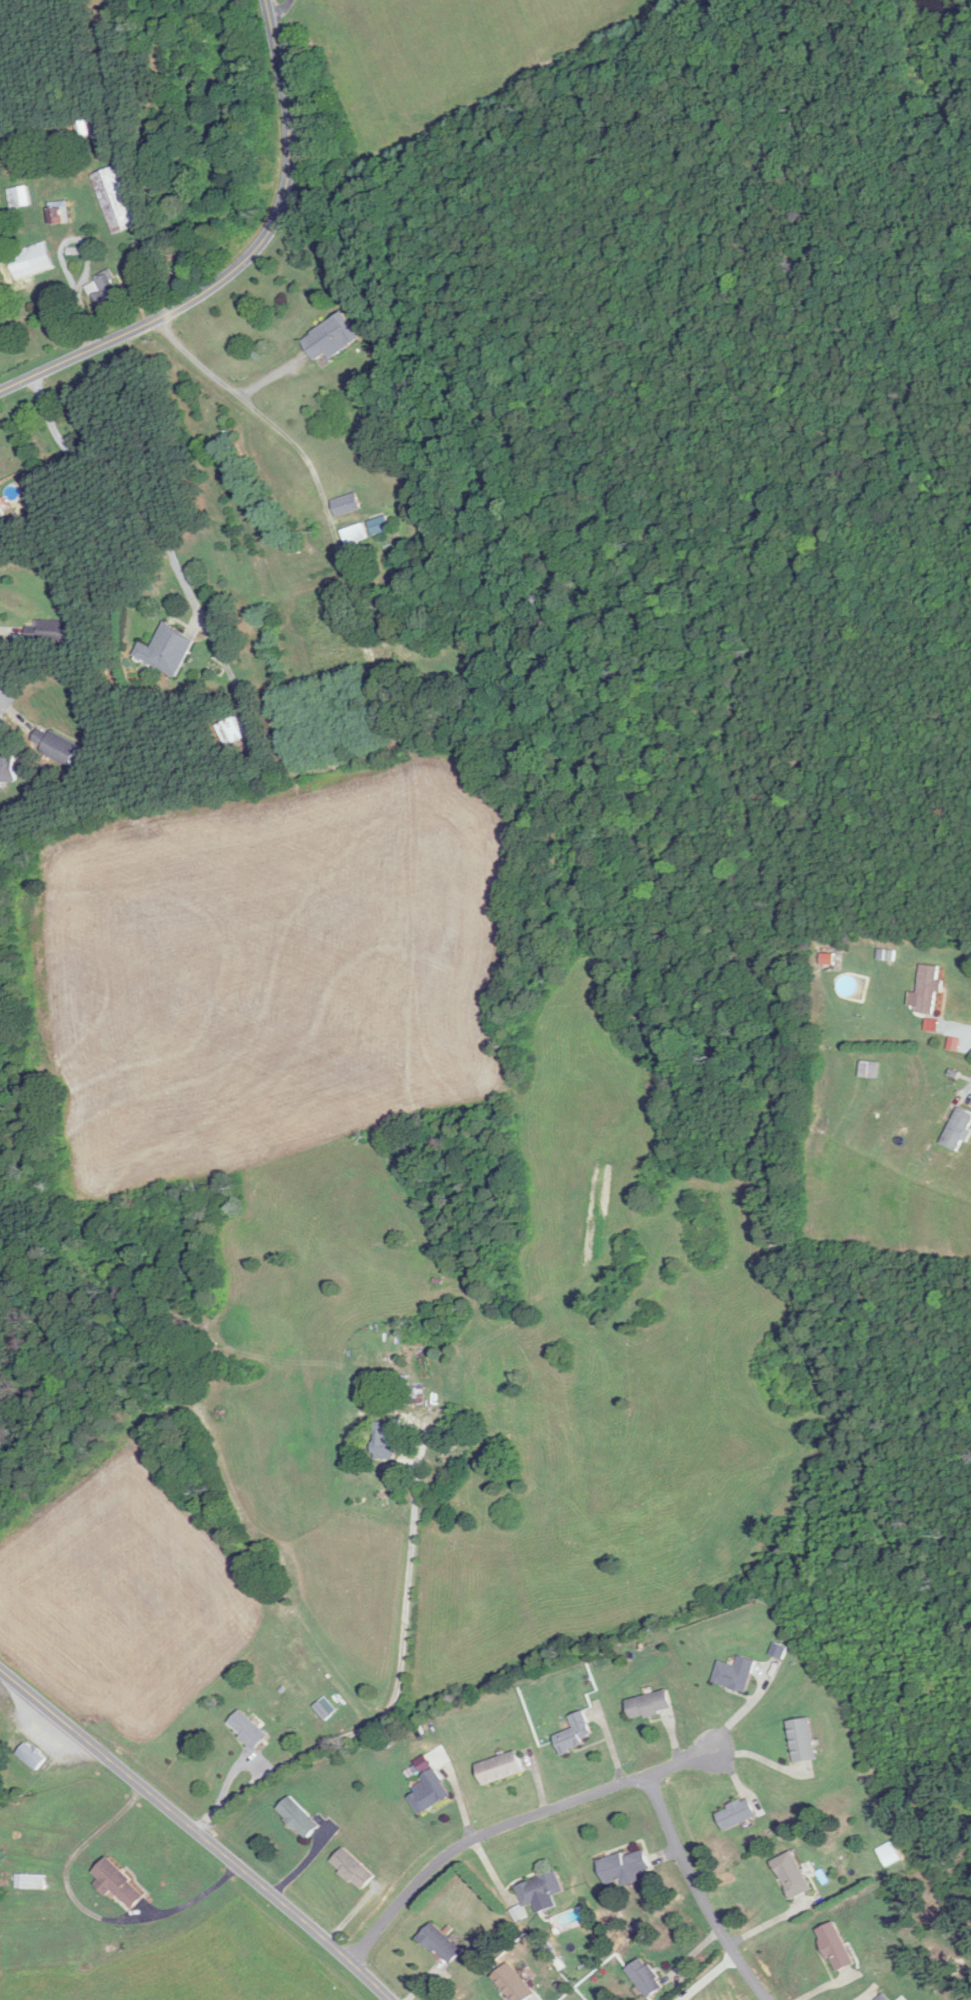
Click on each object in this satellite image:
road: (276, 11)
building: (84, 130)
building: (53, 138)
building: (19, 197)
building: (114, 200)
building: (59, 213)
building: (31, 261)
road: (241, 261)
building: (106, 292)
building: (331, 338)
road: (252, 410)
road: (136, 474)
building: (347, 504)
building: (1, 513)
building: (380, 525)
building: (355, 535)
building: (50, 632)
building: (167, 651)
building: (231, 731)
building: (56, 747)
building: (256, 750)
building: (7, 770)
building: (929, 990)
building: (869, 1071)
building: (958, 1131)
building: (386, 1440)
building: (736, 1674)
road: (391, 1700)
building: (650, 1705)
building: (325, 1708)
building: (248, 1729)
building: (575, 1734)
building: (803, 1740)
building: (32, 1756)
building: (501, 1768)
building: (431, 1793)
building: (737, 1814)
building: (299, 1817)
road: (512, 1824)
road: (196, 1833)
building: (625, 1867)
building: (353, 1869)
building: (793, 1875)
building: (31, 1882)
building: (117, 1883)
building: (541, 1889)
road: (700, 1891)
building: (441, 1944)
building: (836, 1947)
building: (646, 1978)
building: (514, 1984)
building: (886, 1997)

